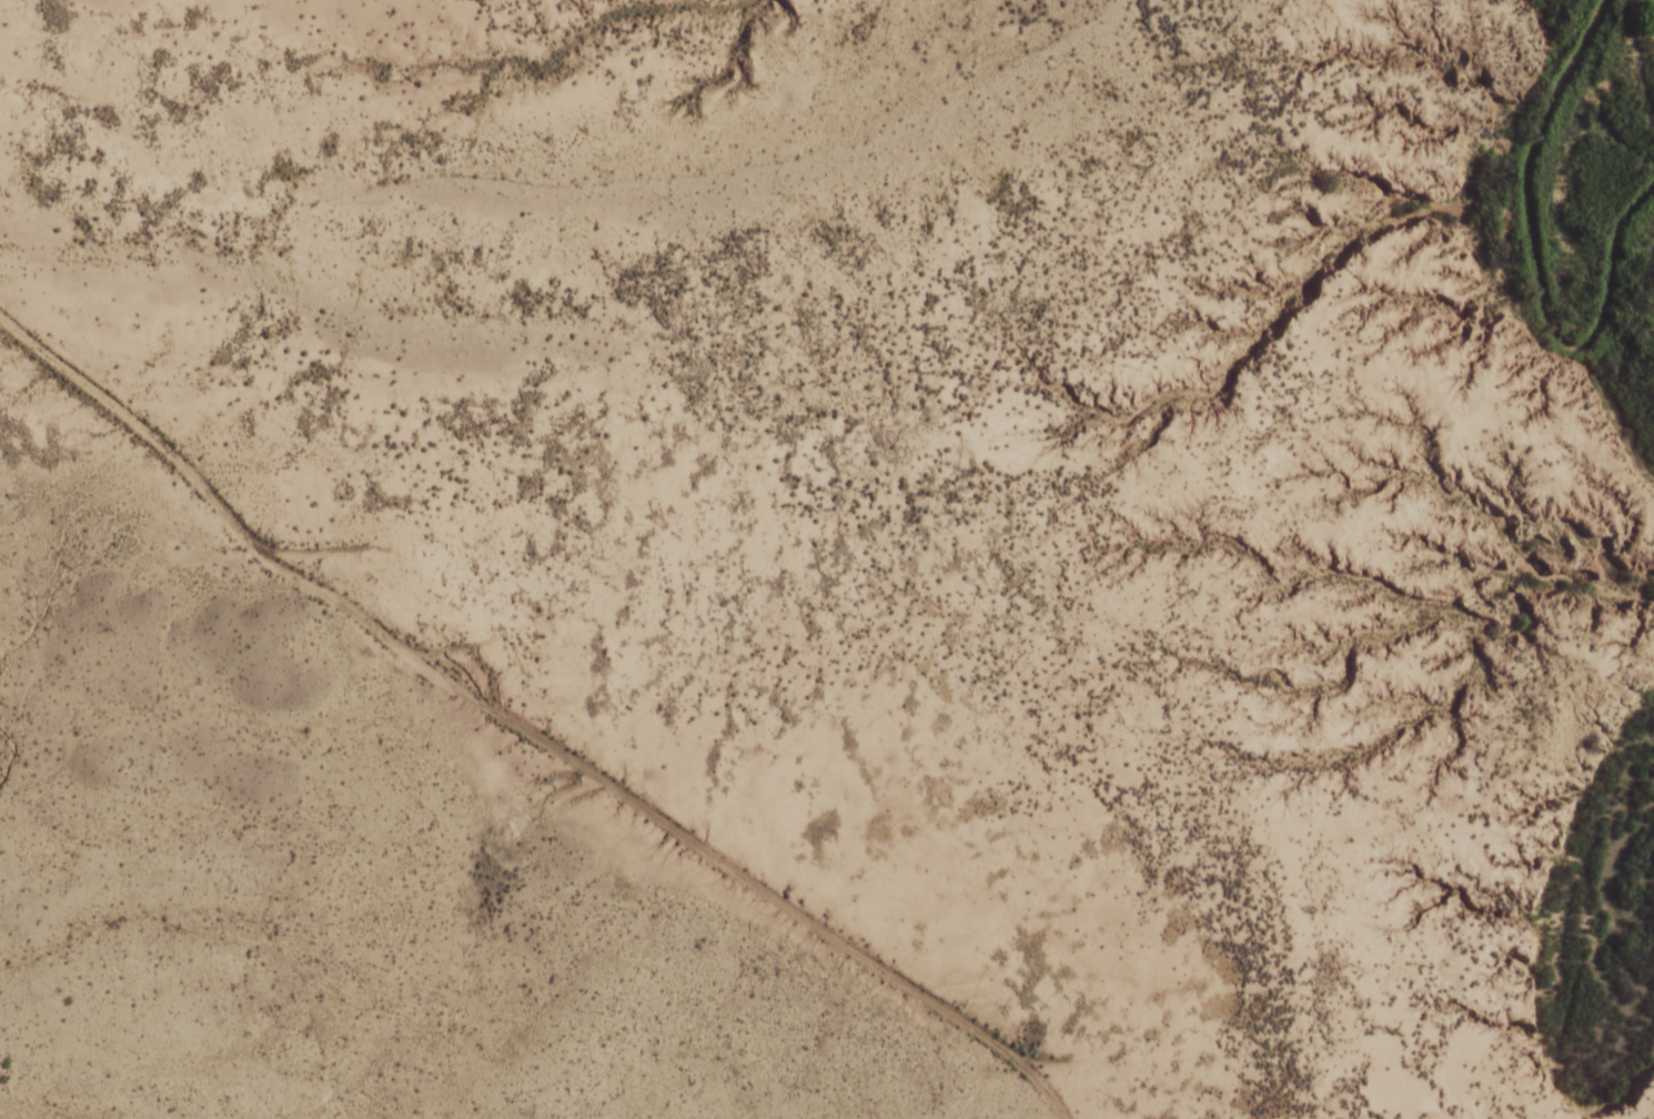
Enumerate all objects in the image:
road: (518, 728)

